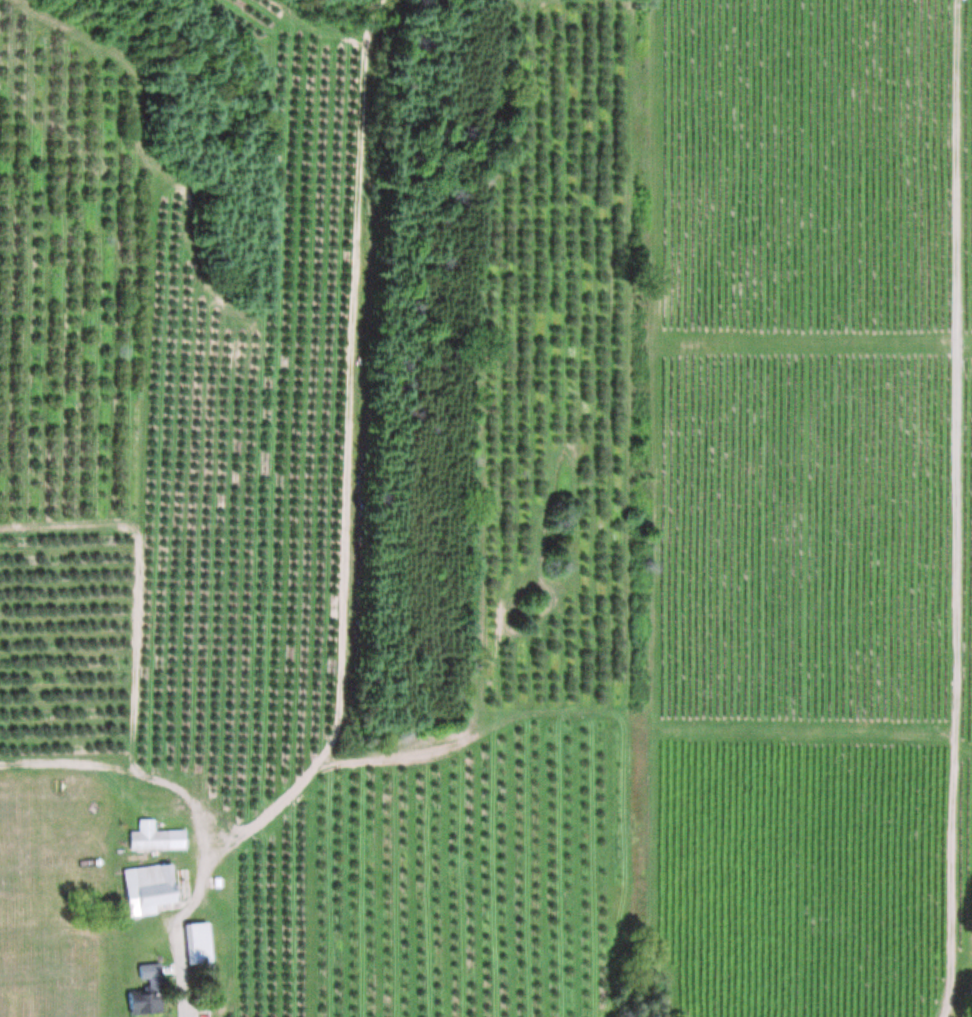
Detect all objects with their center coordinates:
building: (156, 837)
building: (151, 888)
building: (200, 943)
road: (967, 1006)

